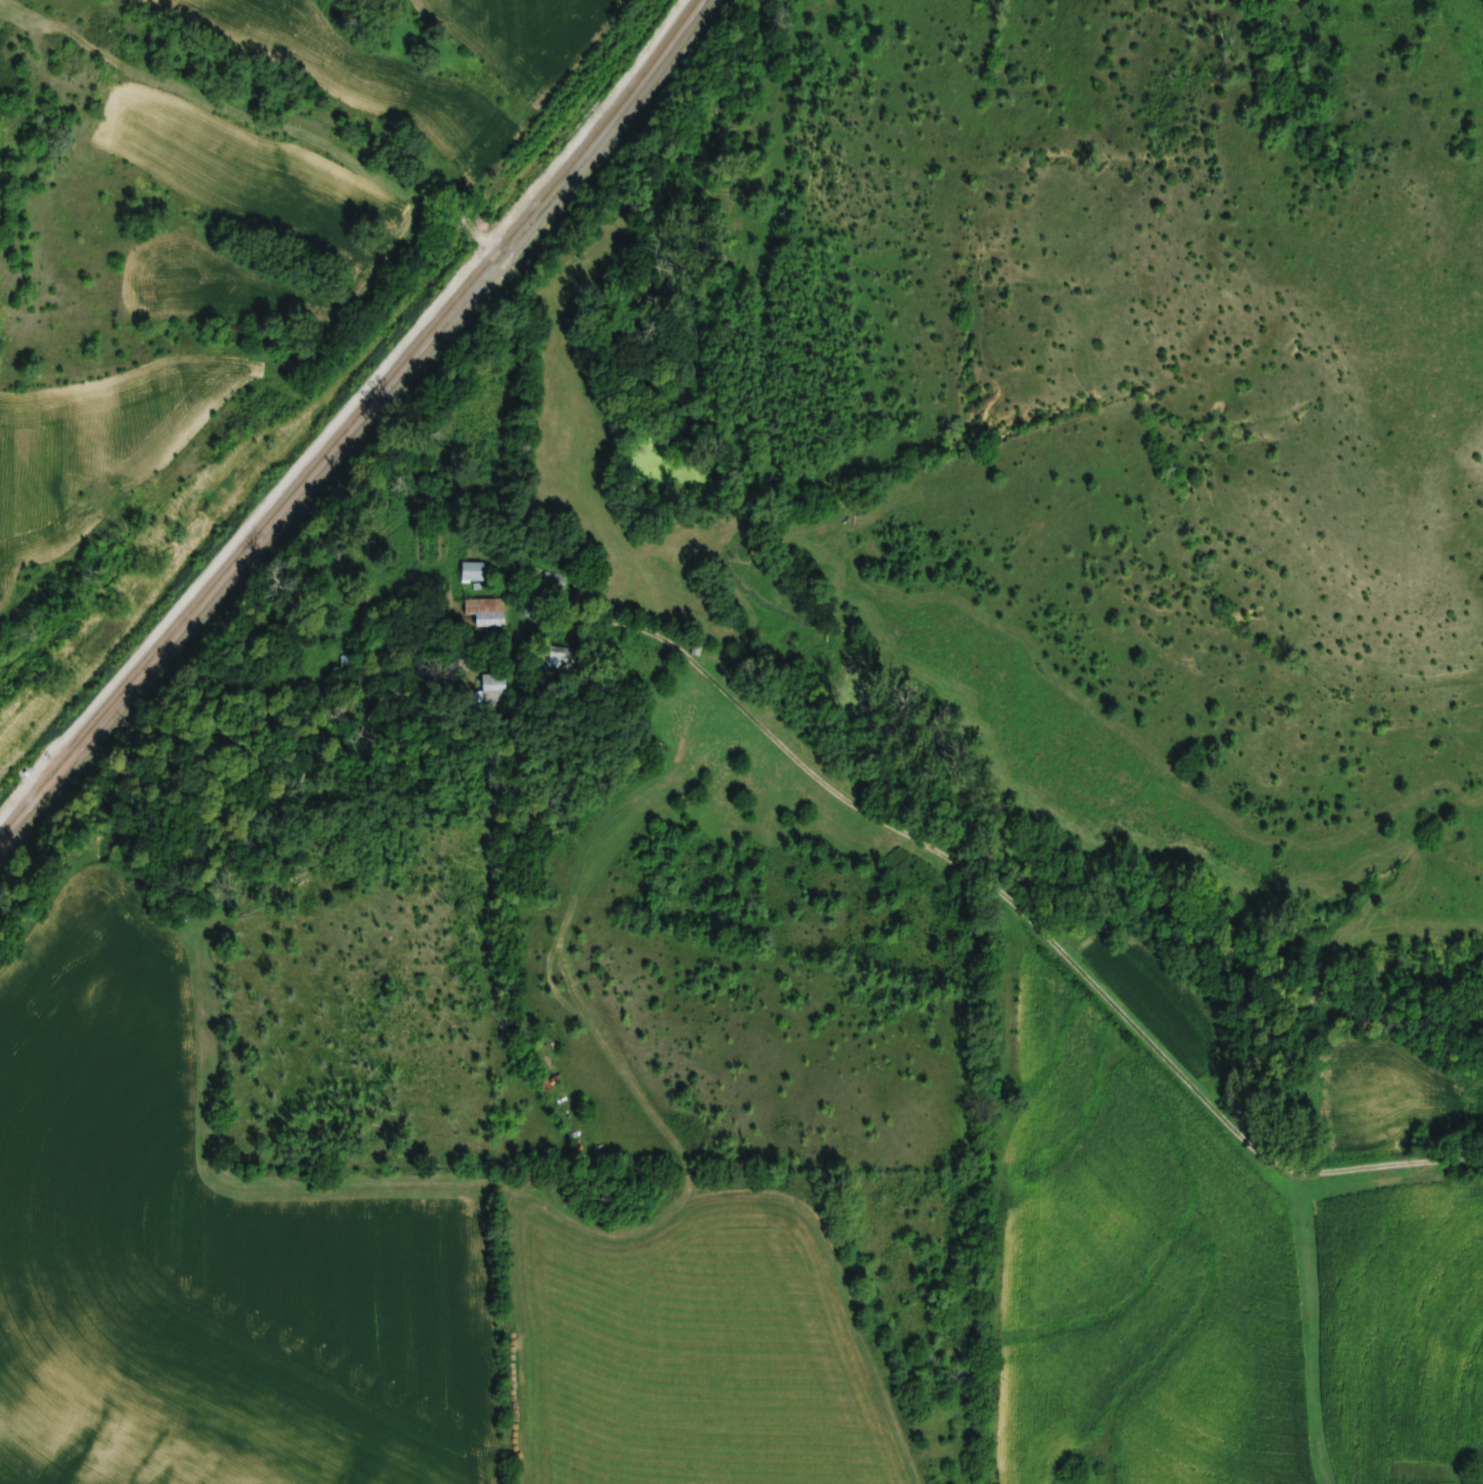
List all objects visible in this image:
road: (325, 105)
railway: (347, 422)
railway: (355, 431)
building: (474, 571)
building: (555, 581)
building: (488, 611)
building: (698, 651)
building: (563, 656)
building: (351, 666)
building: (496, 690)
road: (1006, 907)

